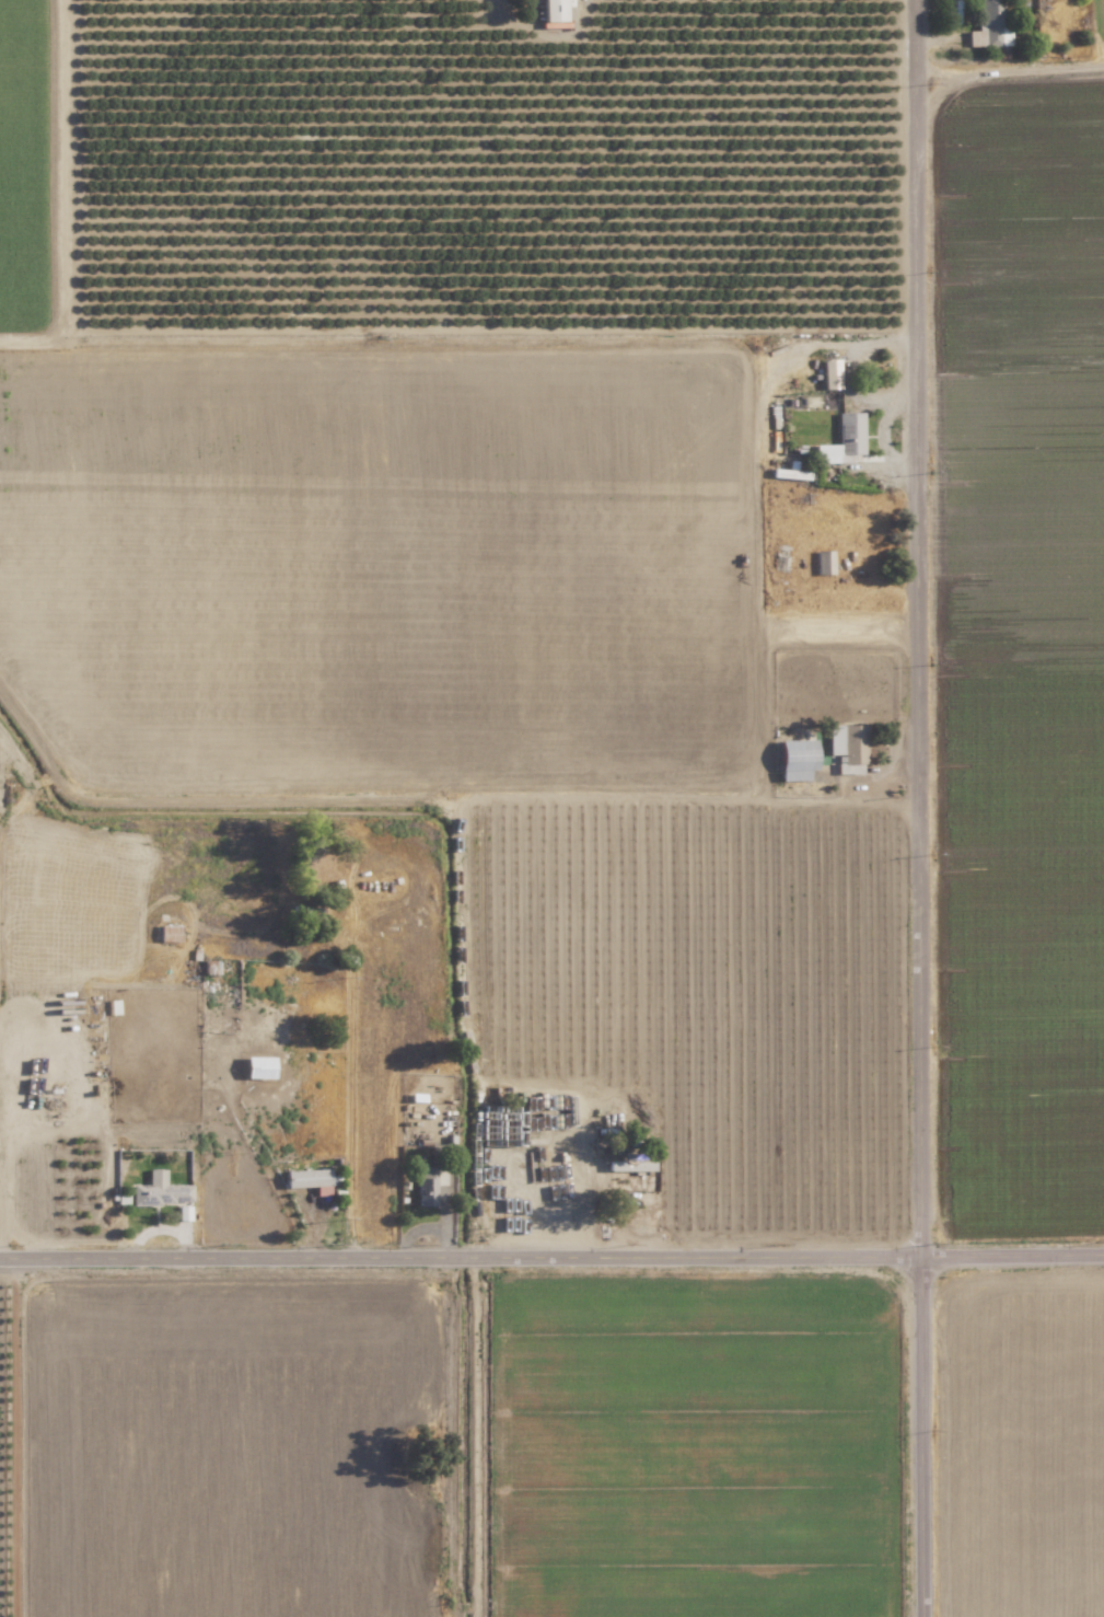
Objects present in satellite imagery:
building: (554, 10)
building: (990, 25)
road: (1008, 67)
building: (832, 373)
building: (844, 440)
road: (923, 627)
building: (849, 747)
building: (168, 933)
building: (307, 1177)
building: (426, 1186)
road: (1012, 1250)
road: (461, 1256)
road: (923, 1435)

